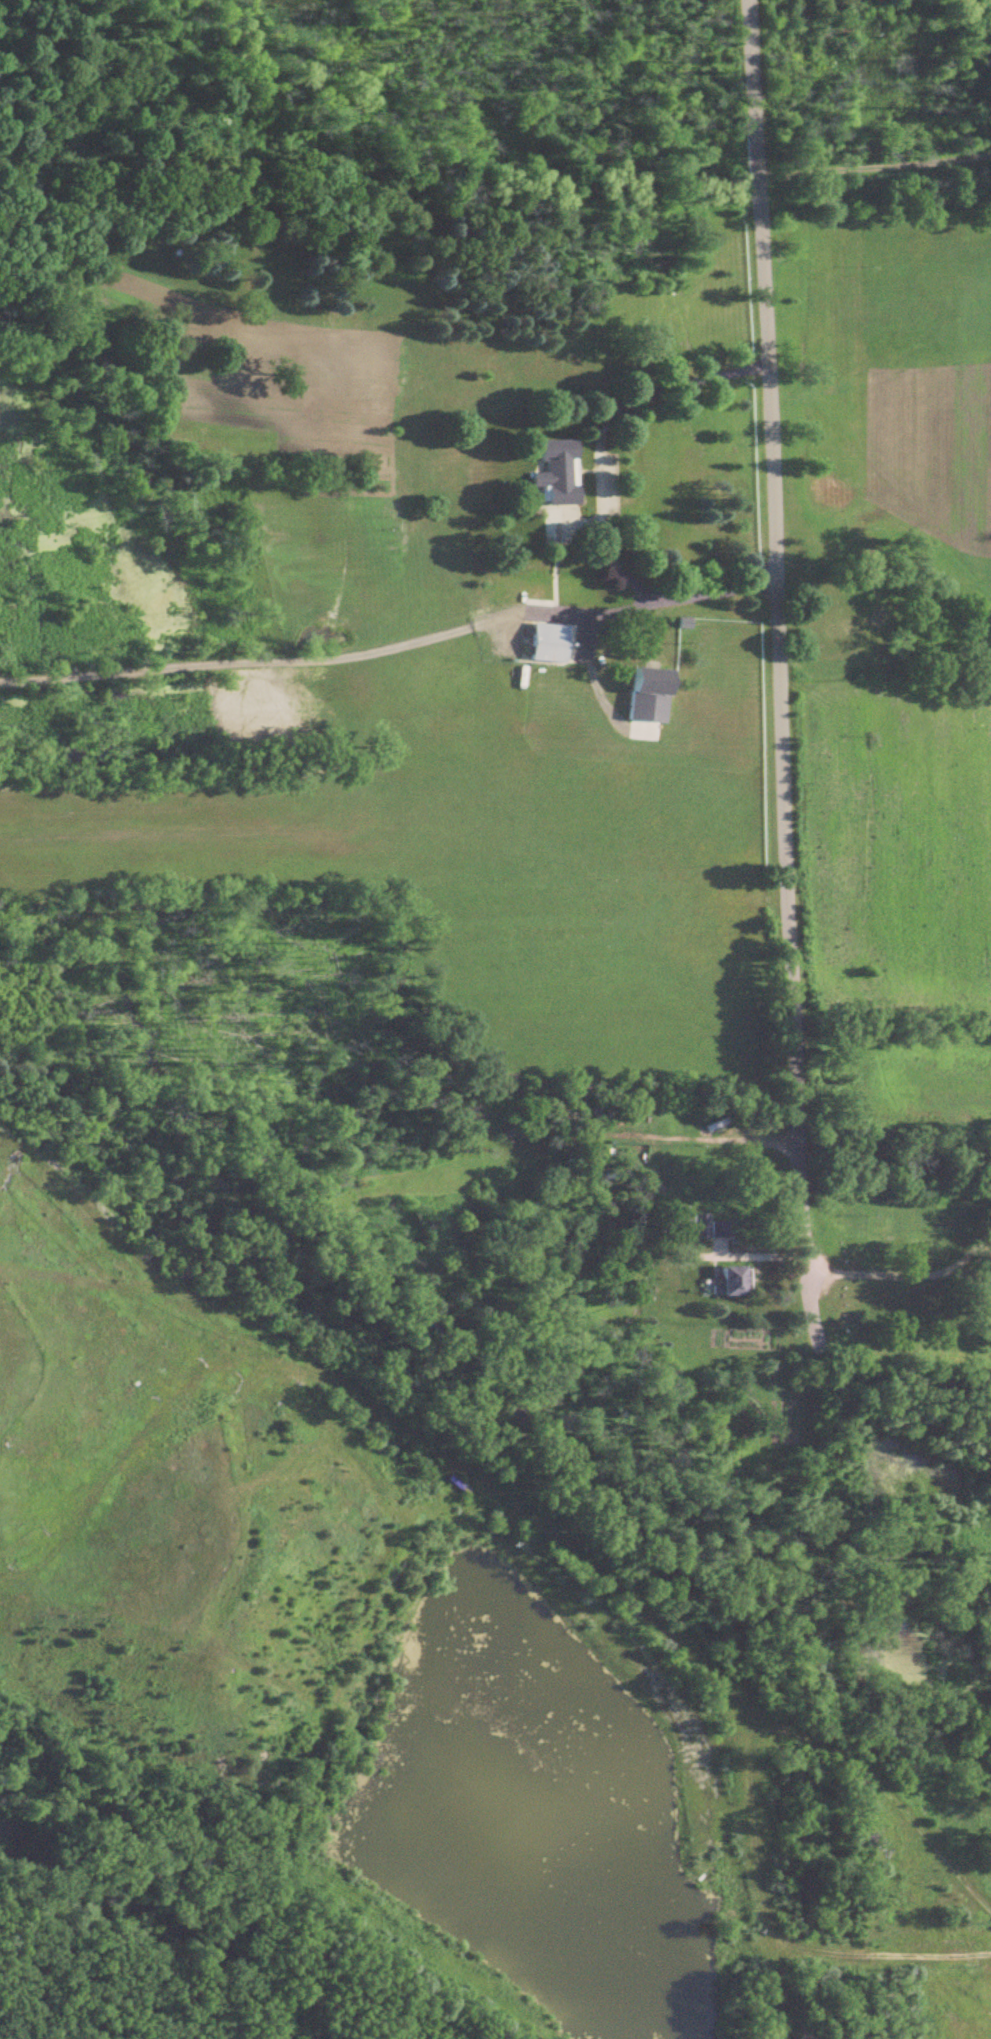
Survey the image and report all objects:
road: (873, 167)
road: (597, 437)
building: (553, 473)
building: (544, 645)
road: (390, 647)
road: (599, 691)
building: (643, 696)
airport runway: (354, 822)
road: (792, 1019)
building: (679, 1222)
building: (698, 1231)
building: (716, 1231)
road: (880, 1275)
building: (988, 1277)
building: (726, 1284)
building: (989, 1303)
road: (873, 1349)
road: (410, 1380)
road: (741, 1753)
road: (912, 1956)

